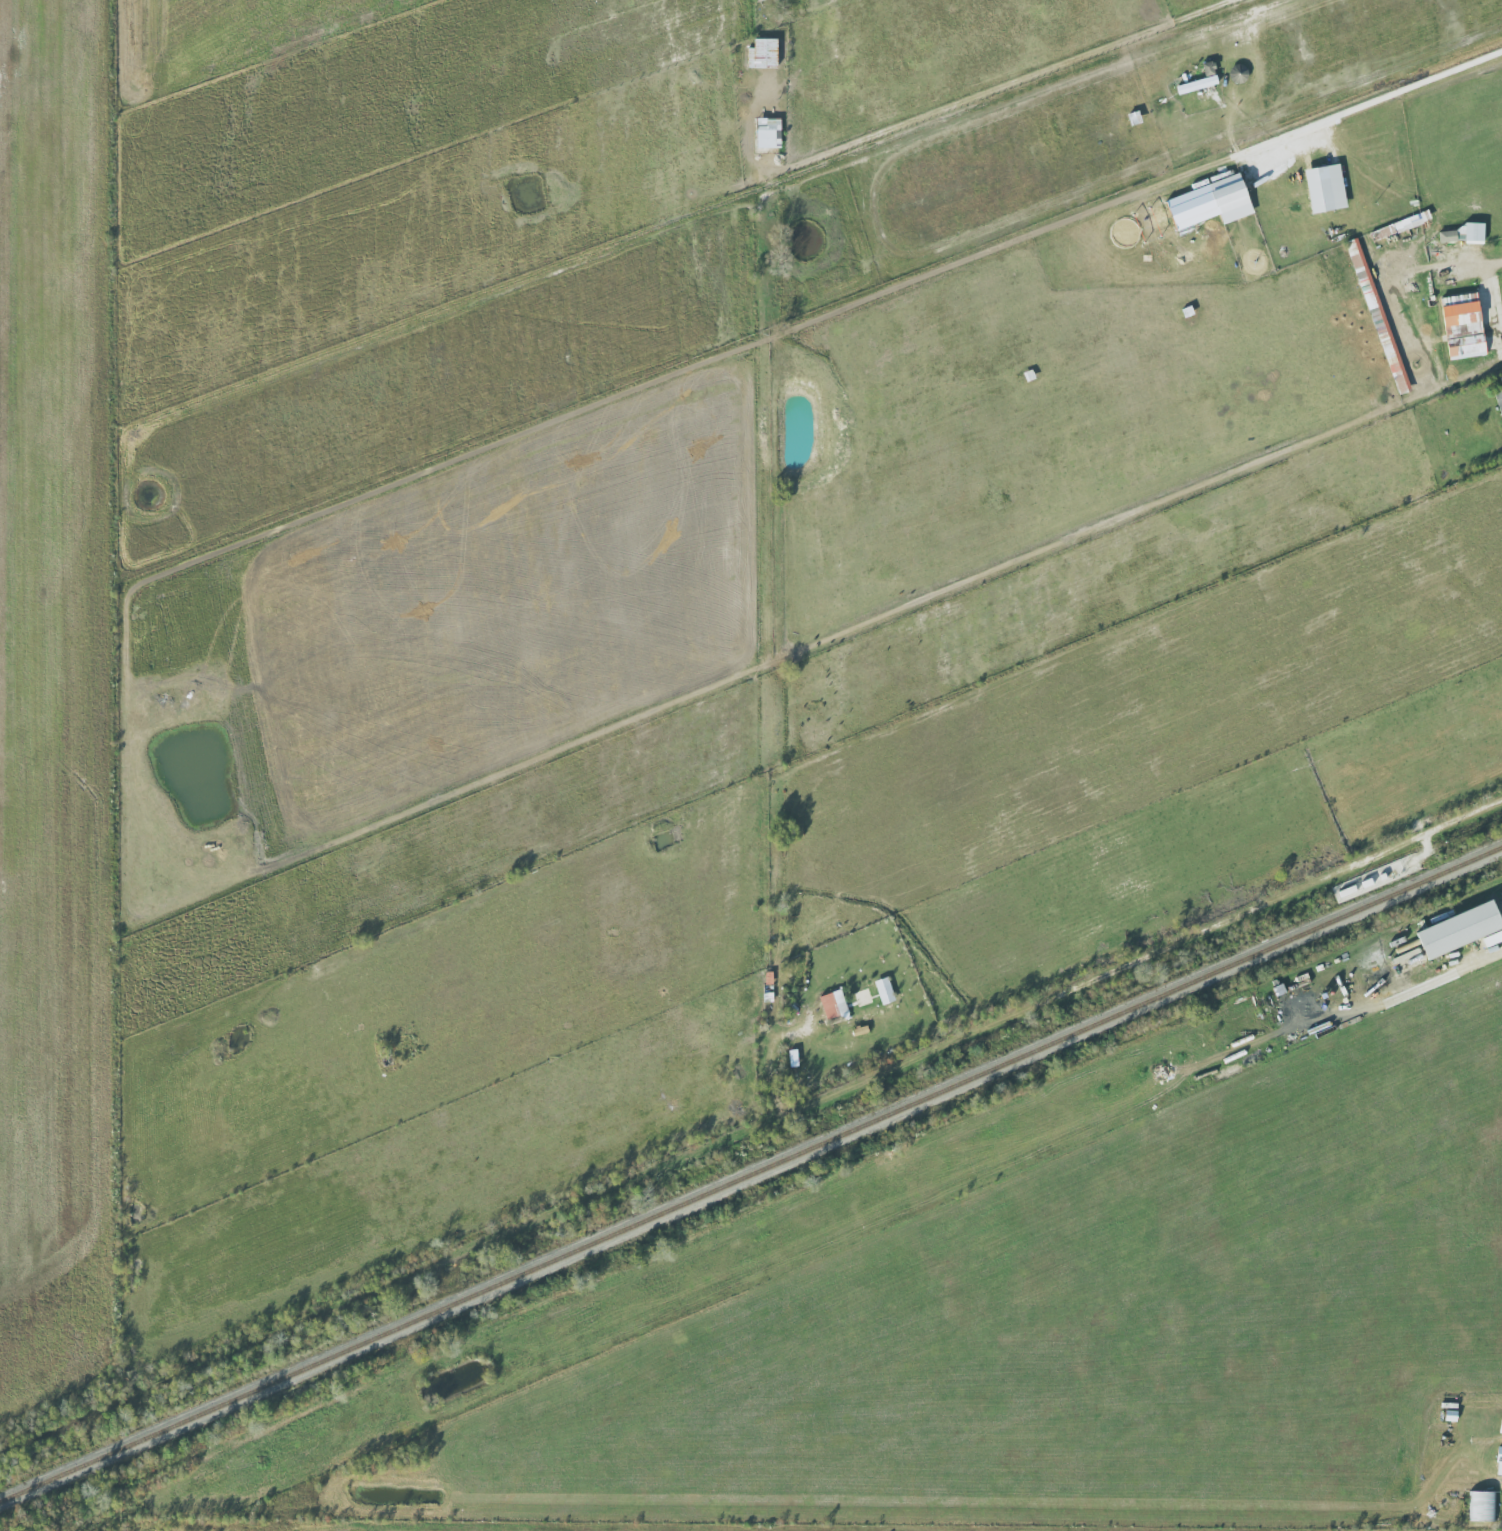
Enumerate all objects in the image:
building: (771, 53)
building: (1237, 74)
road: (1006, 81)
road: (1369, 102)
building: (776, 132)
building: (1331, 187)
building: (1226, 194)
building: (1395, 228)
road: (1491, 264)
building: (1409, 285)
building: (1461, 325)
building: (1457, 930)
road: (1104, 973)
building: (892, 989)
building: (842, 1003)
railway: (751, 1172)
building: (1482, 1506)

